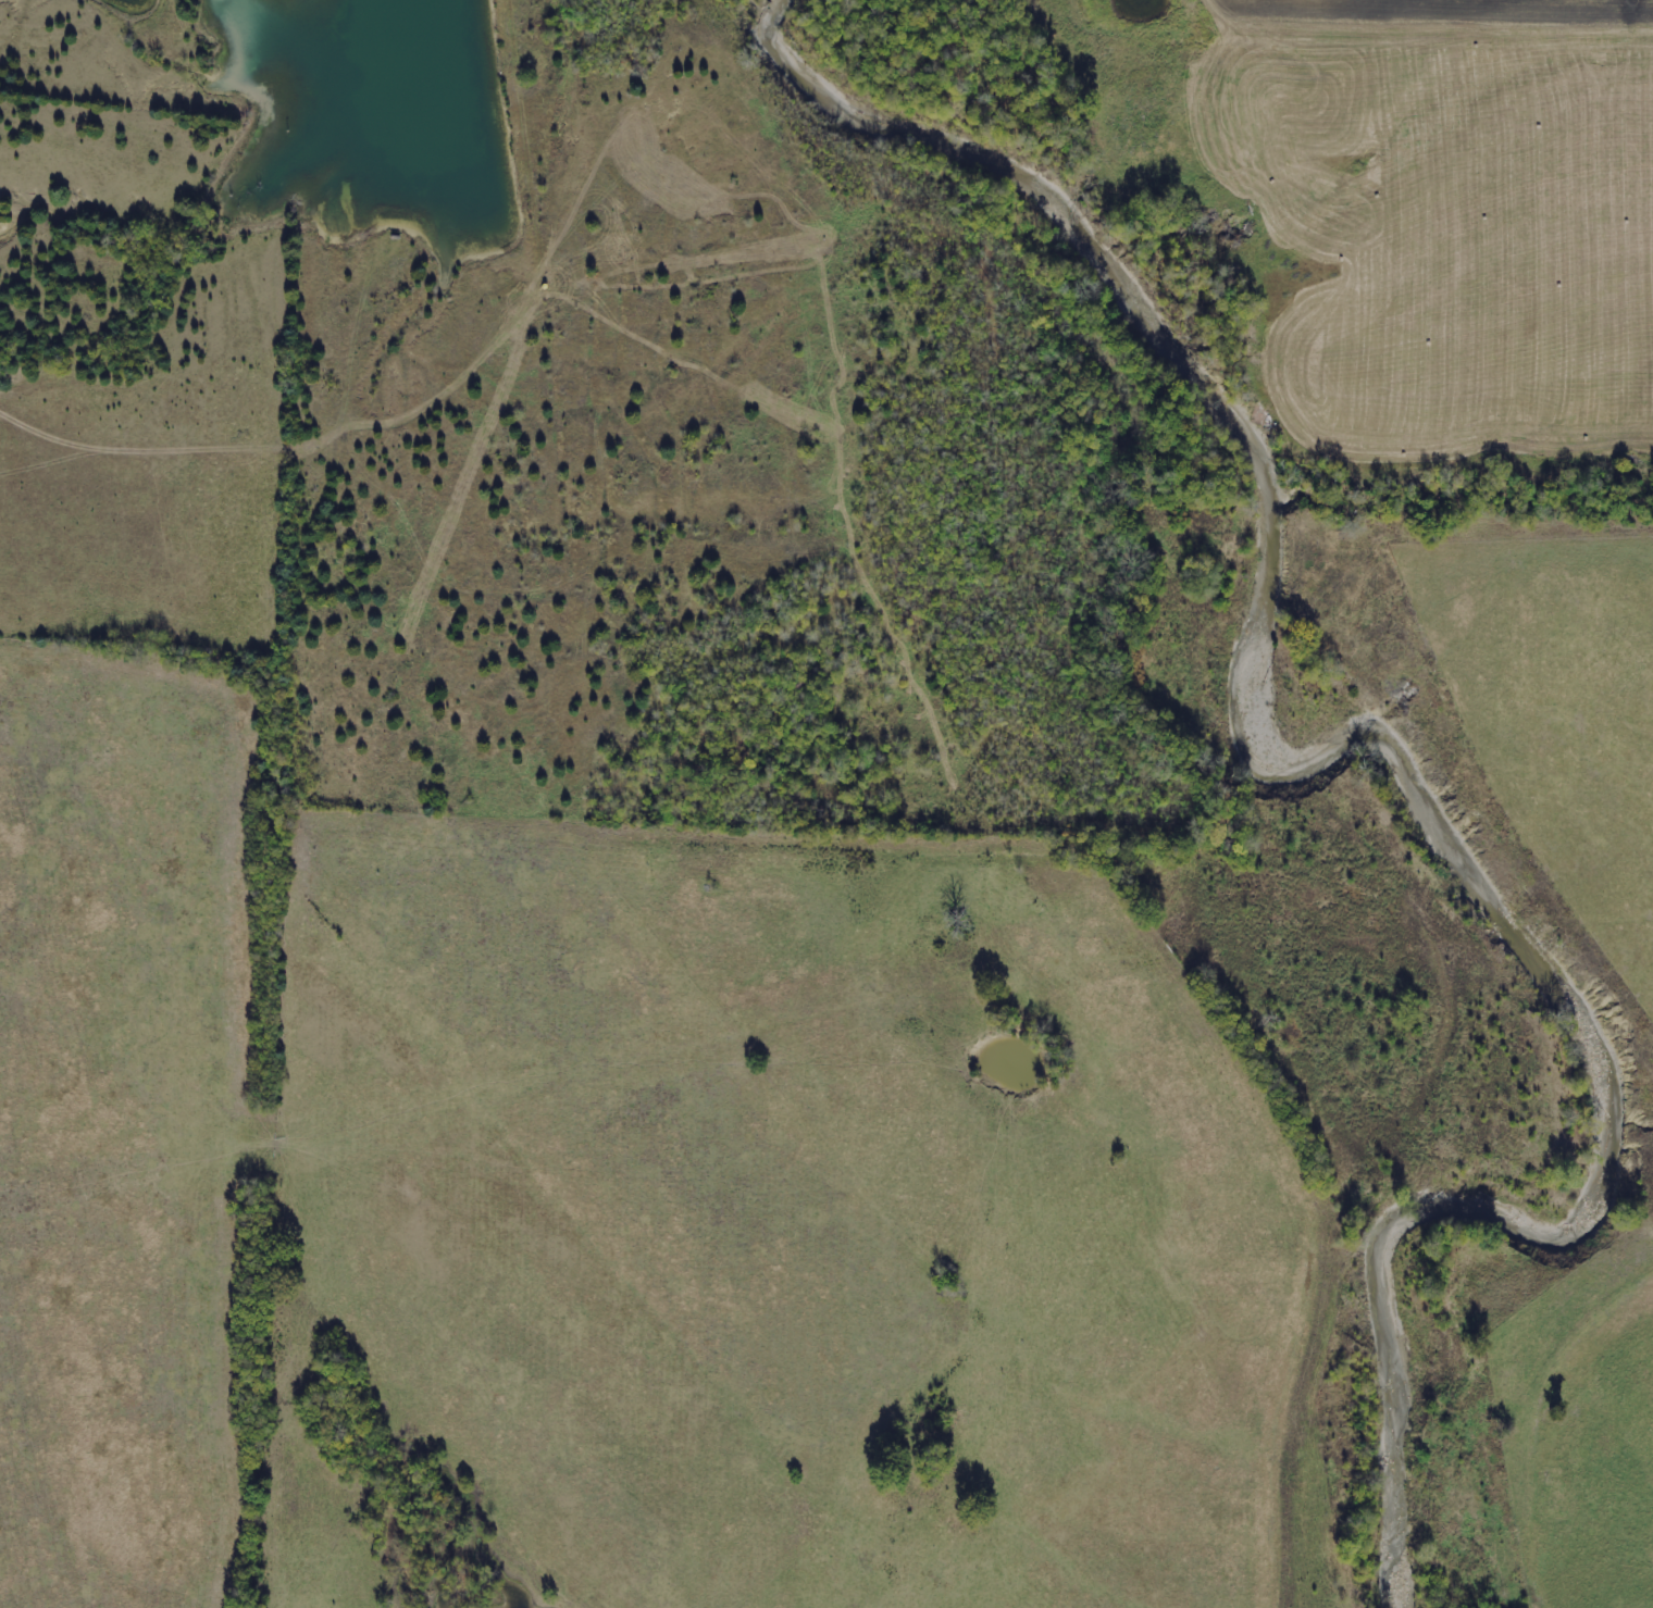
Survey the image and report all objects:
road: (1049, 870)
road: (265, 1009)

